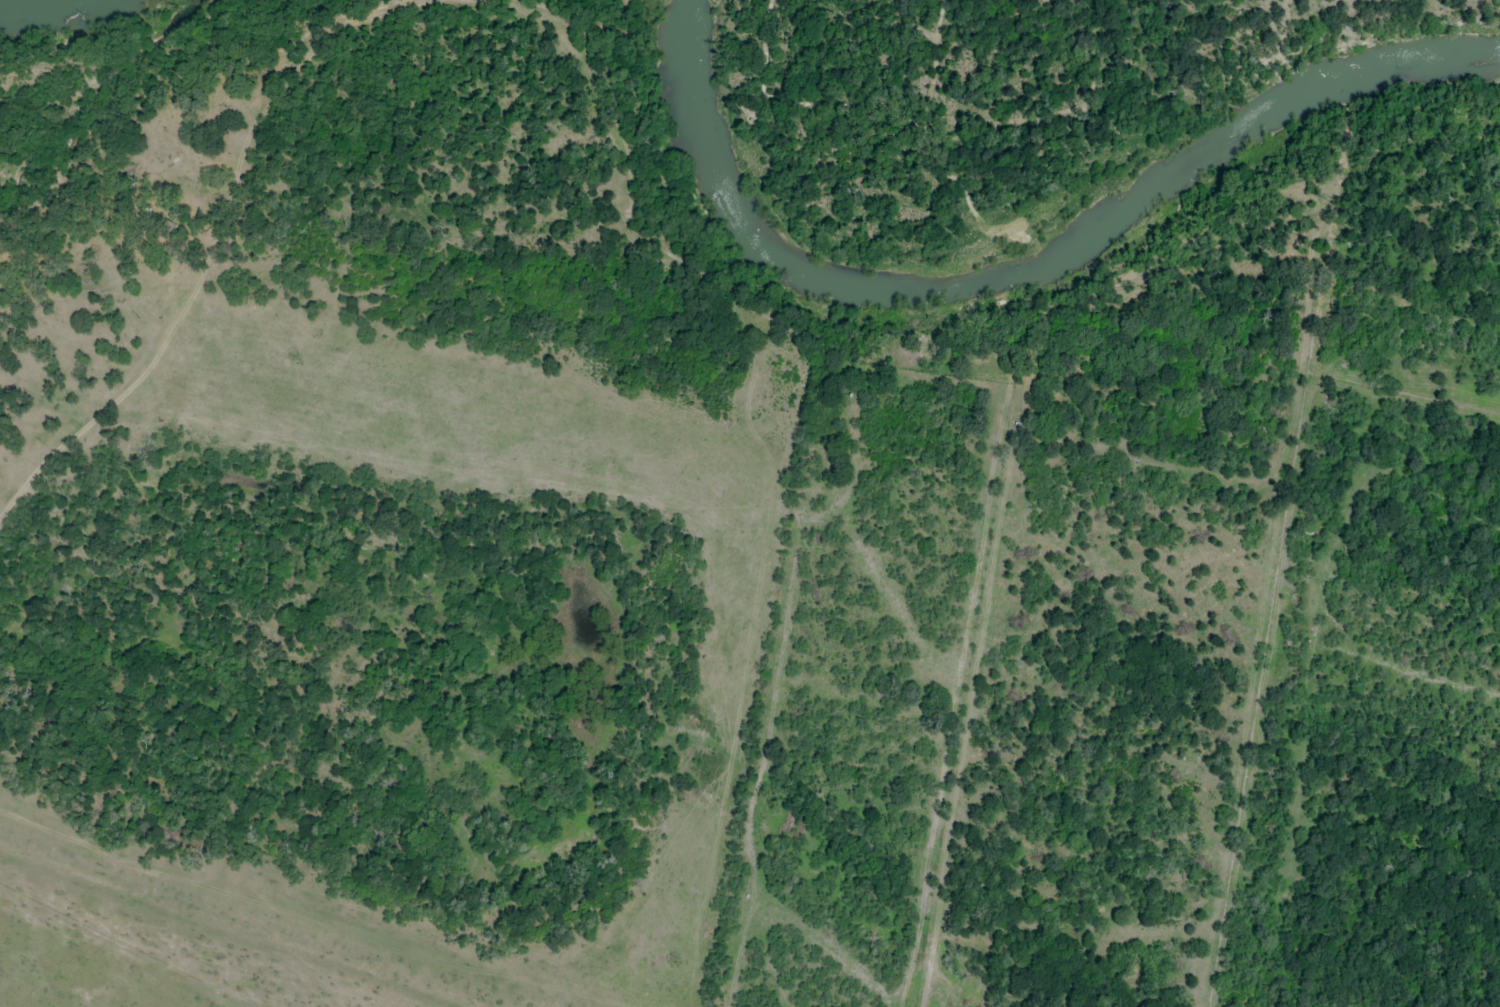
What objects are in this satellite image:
river: (23, 2)
river: (1019, 272)

